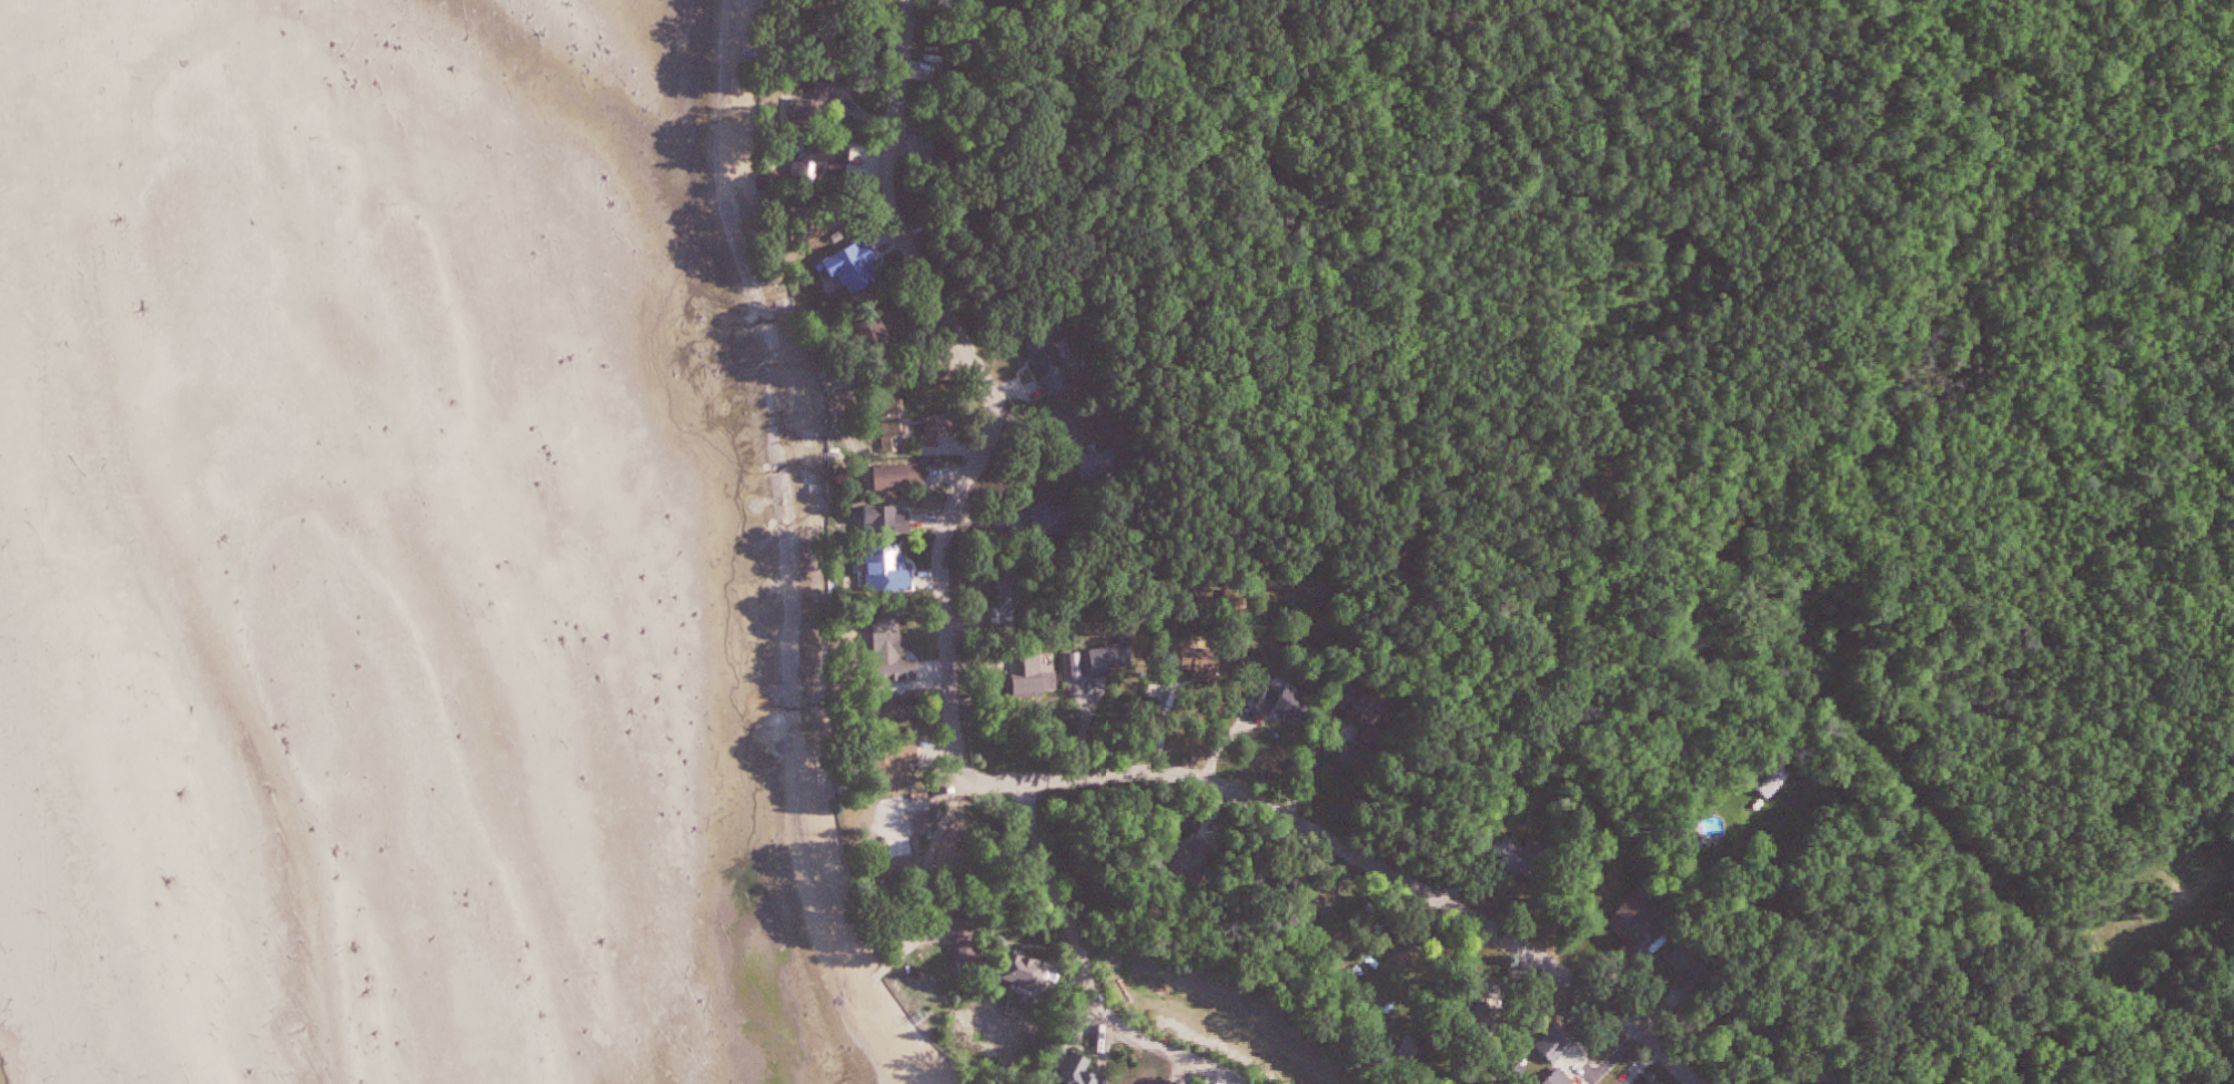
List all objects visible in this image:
road: (1629, 21)
building: (817, 101)
building: (828, 150)
building: (1050, 355)
building: (893, 425)
building: (1096, 459)
building: (903, 476)
building: (882, 518)
building: (1051, 518)
building: (1009, 590)
building: (889, 637)
building: (1109, 659)
building: (1034, 685)
building: (1286, 701)
building: (1369, 717)
road: (1311, 754)
building: (903, 756)
road: (973, 777)
road: (1829, 779)
building: (900, 827)
building: (957, 854)
building: (1196, 859)
building: (1521, 859)
building: (1643, 919)
building: (966, 950)
road: (1086, 969)
building: (1027, 970)
building: (1562, 1048)
building: (1085, 1071)
building: (1566, 1080)
building: (1820, 1083)

